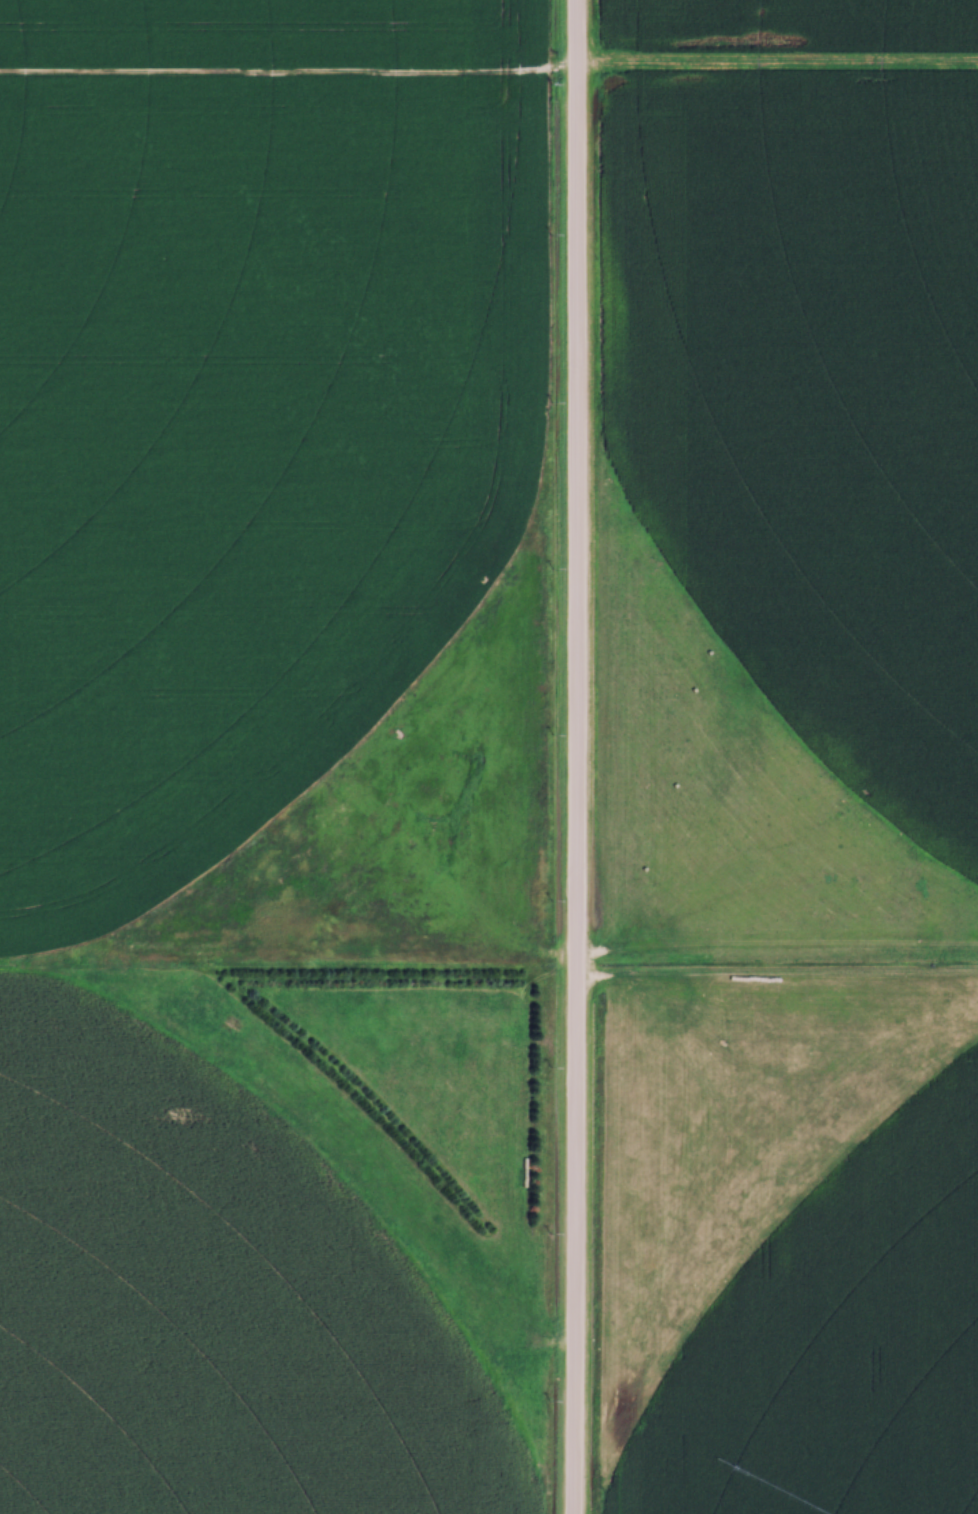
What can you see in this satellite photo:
road: (571, 757)

